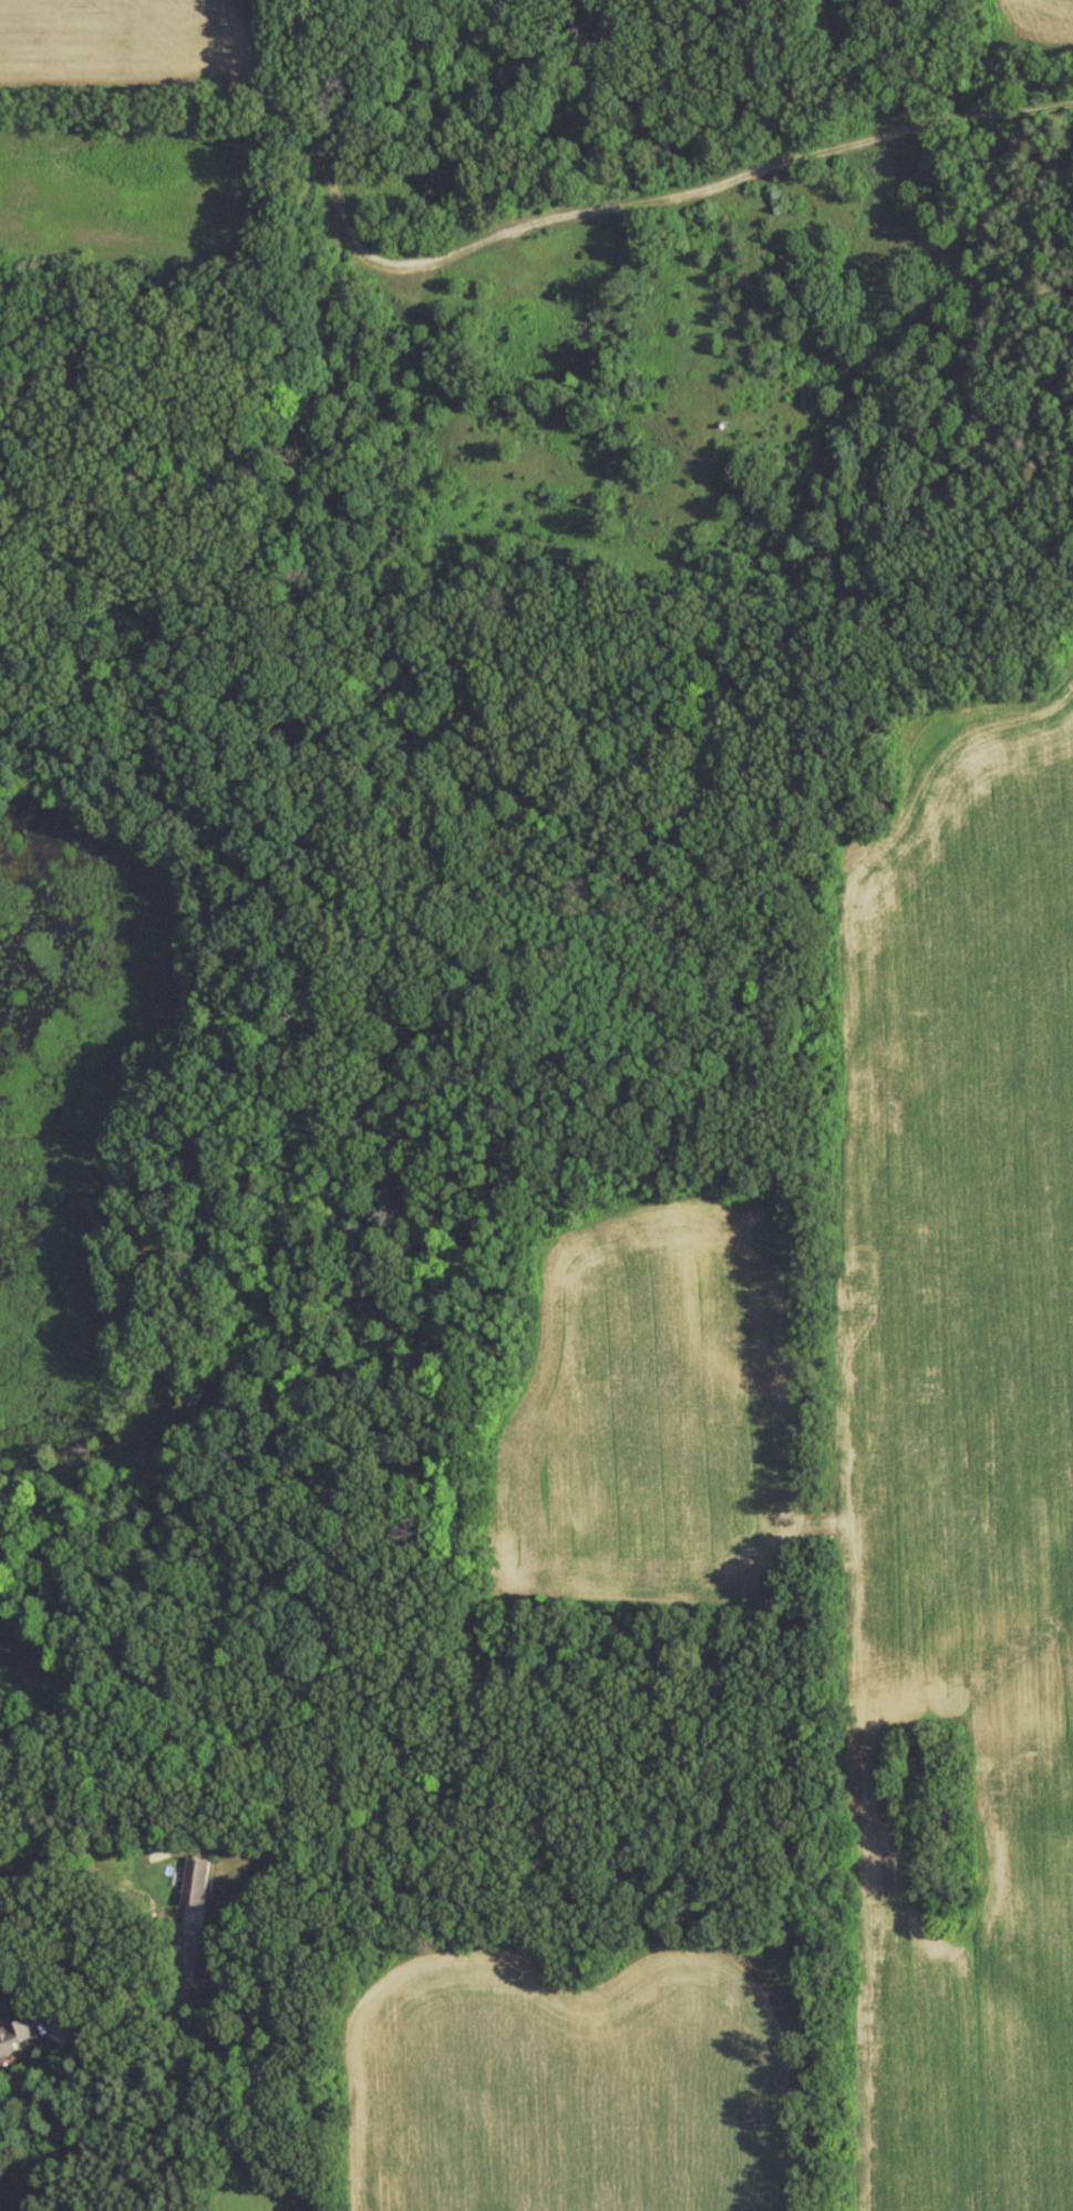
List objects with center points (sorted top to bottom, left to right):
building: (198, 1880)
road: (112, 1984)
road: (20, 2007)
building: (13, 2035)

